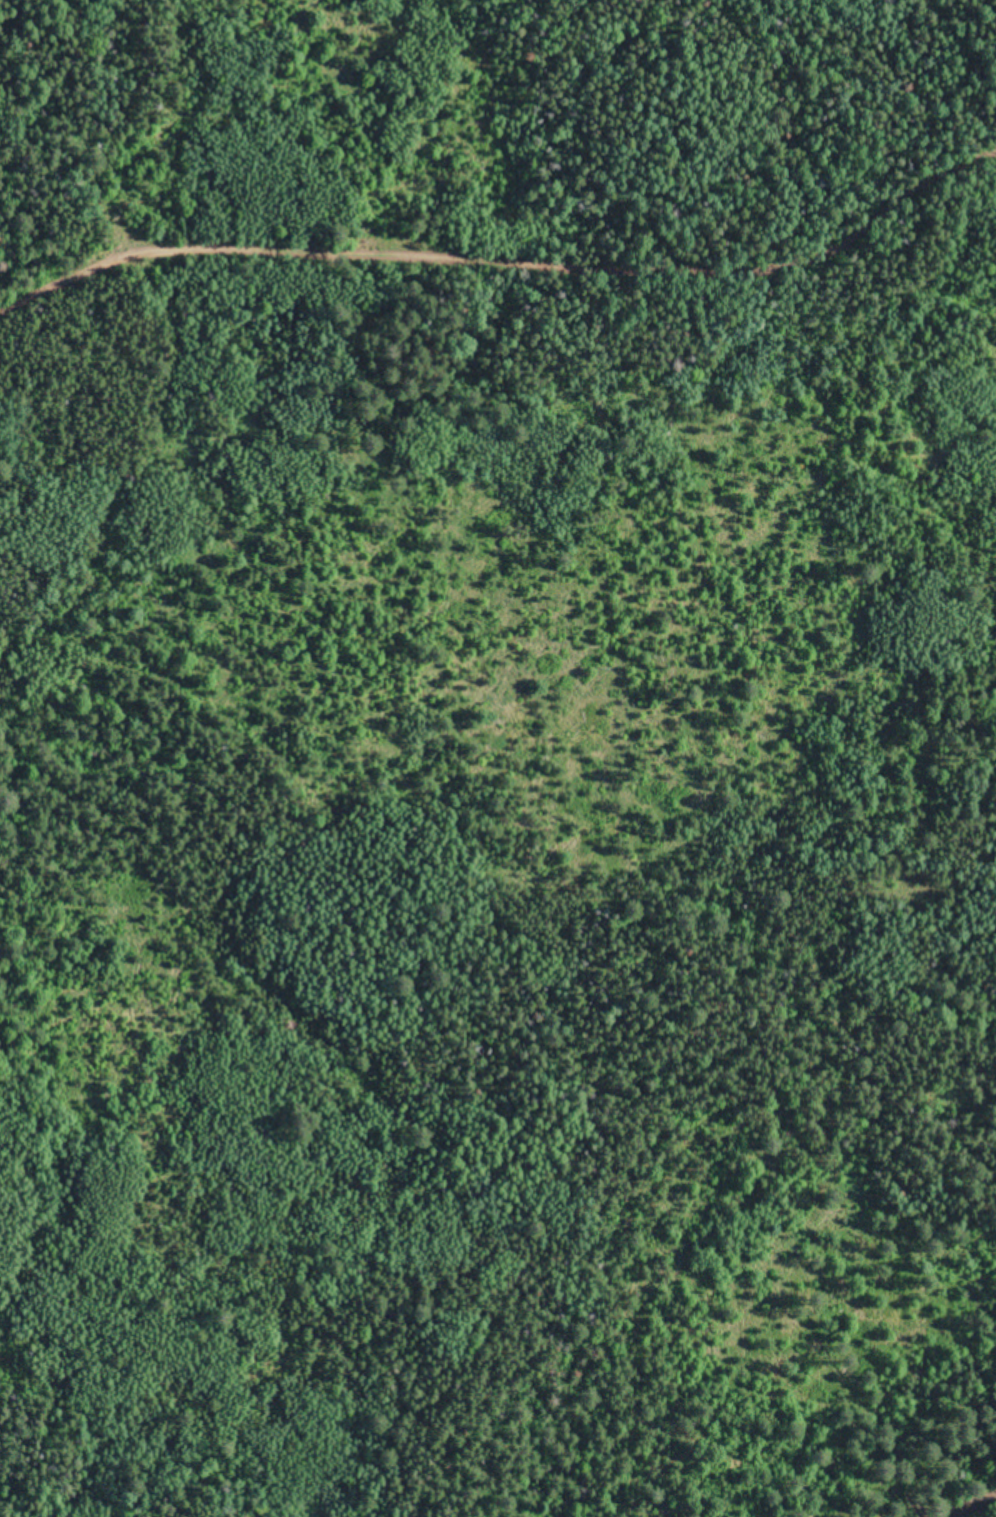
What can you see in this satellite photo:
road: (496, 207)
road: (994, 1516)

